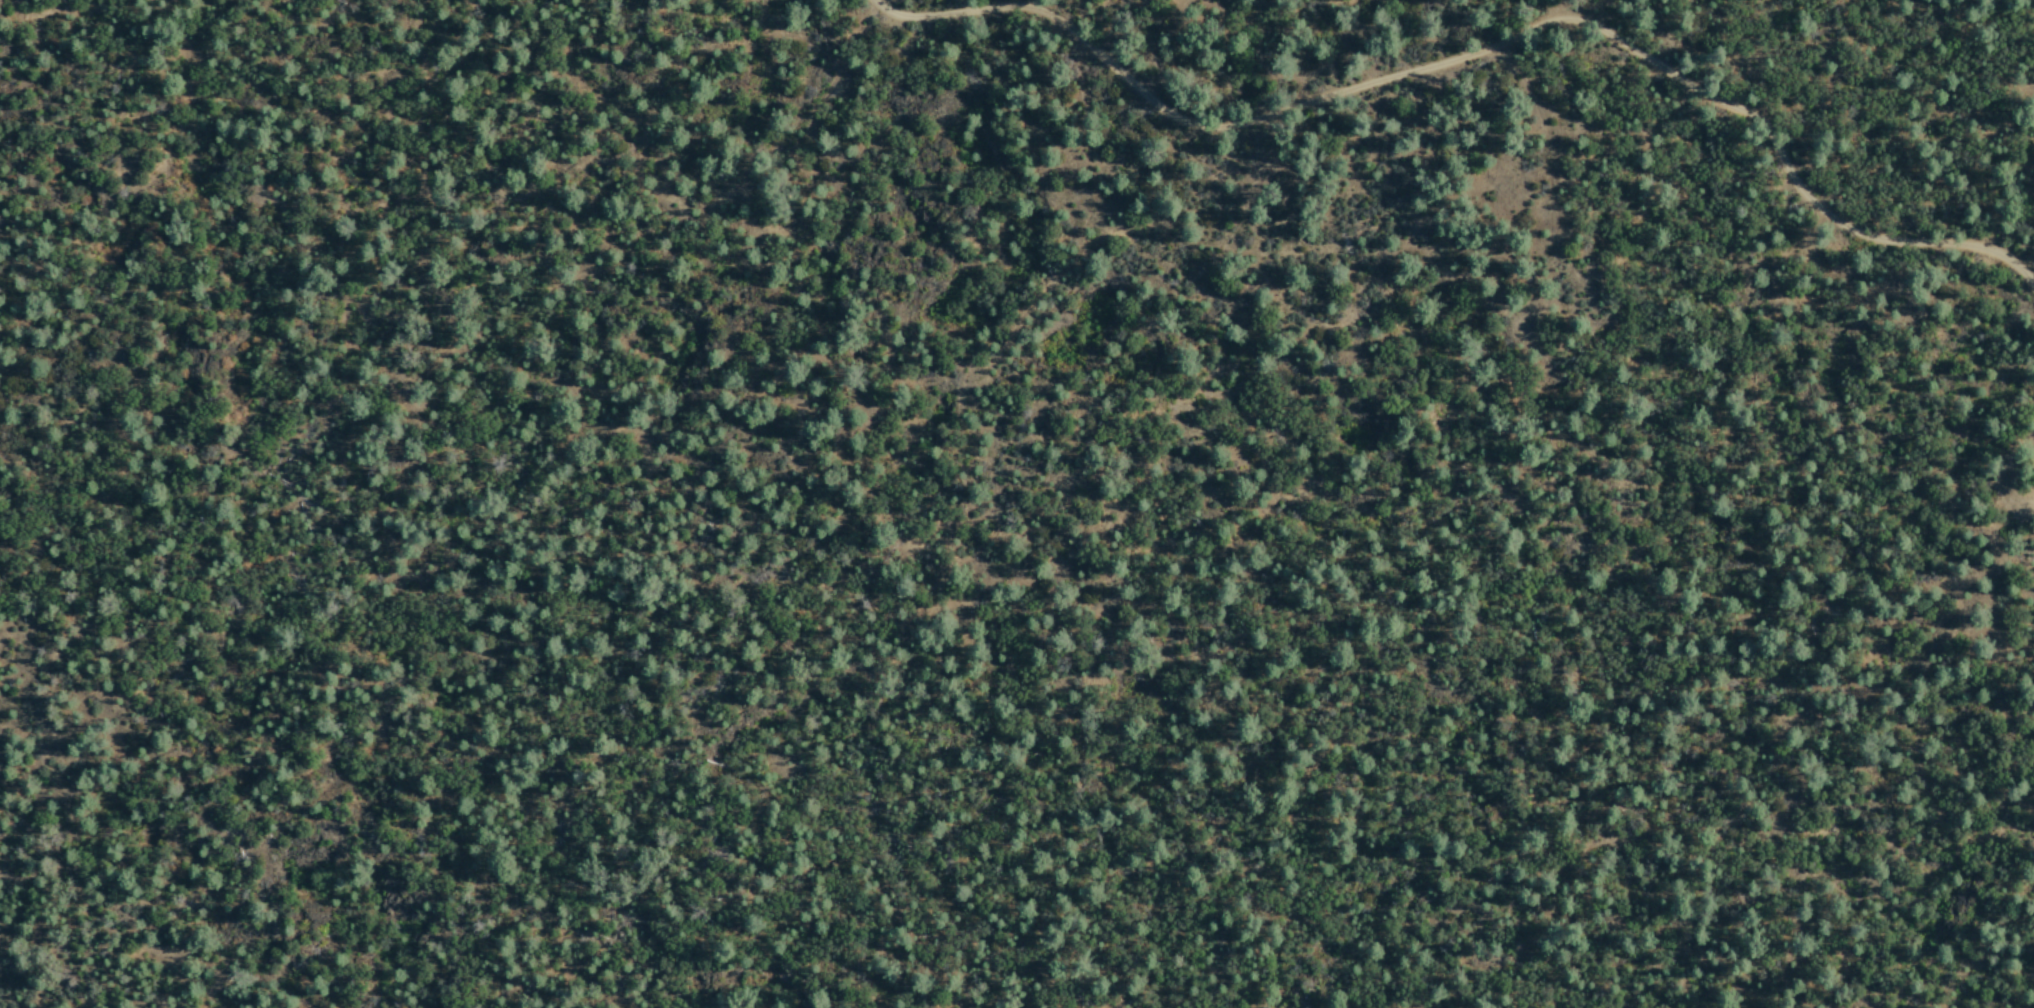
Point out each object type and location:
road: (1489, 45)

